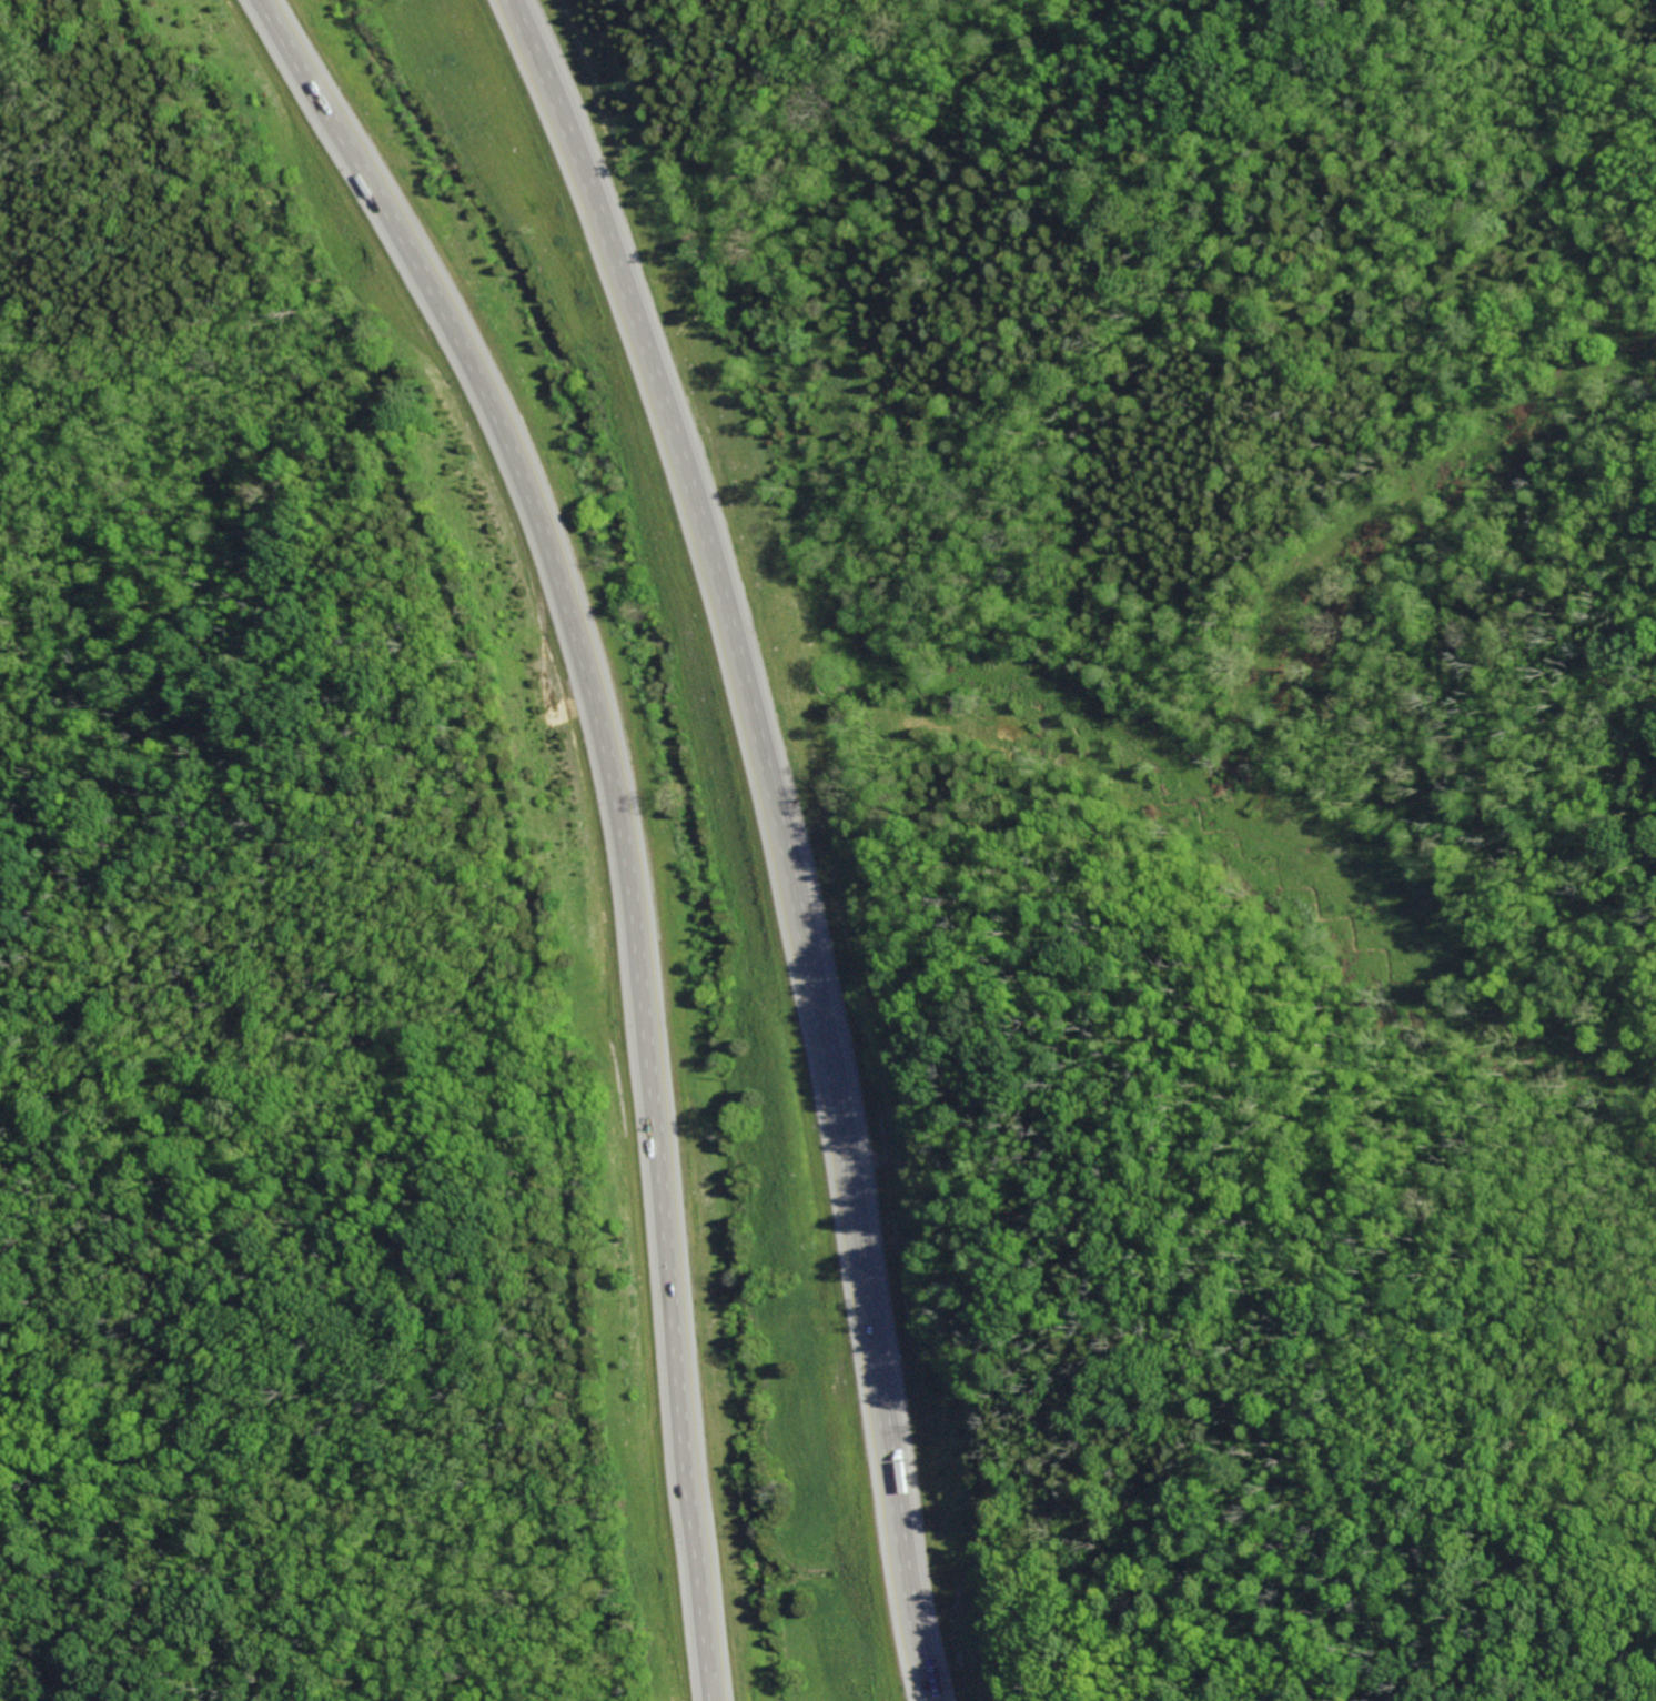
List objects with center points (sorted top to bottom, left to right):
road: (612, 812)
road: (792, 834)

